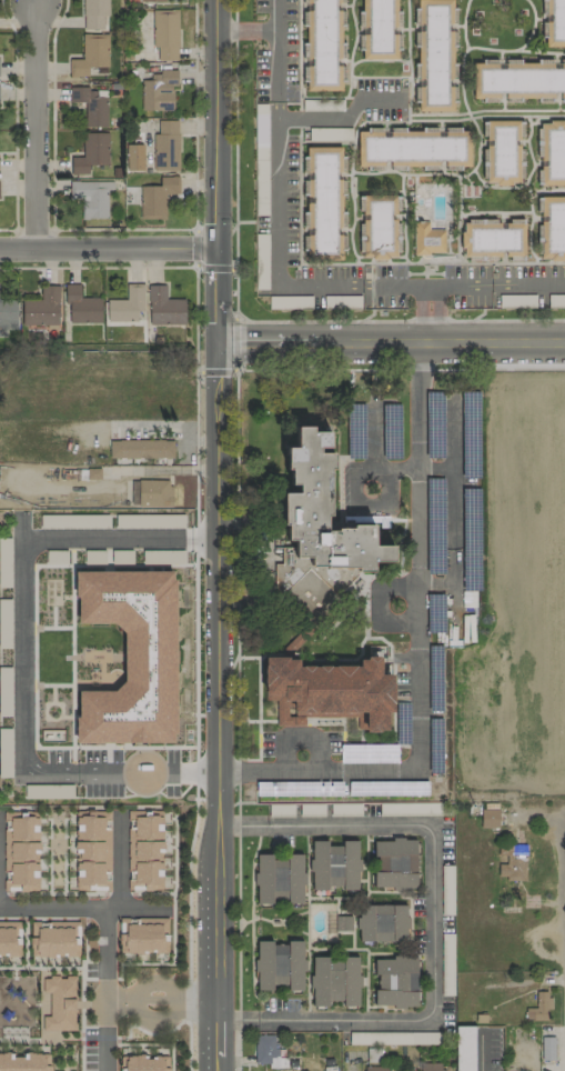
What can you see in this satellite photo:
building: (151, 0)
building: (94, 13)
building: (554, 23)
road: (244, 30)
building: (380, 30)
building: (165, 34)
building: (323, 44)
road: (275, 50)
building: (90, 54)
building: (435, 56)
building: (518, 80)
building: (158, 91)
building: (90, 107)
road: (341, 116)
road: (214, 124)
road: (36, 126)
building: (165, 146)
building: (415, 148)
building: (503, 152)
building: (90, 153)
building: (552, 153)
road: (234, 158)
building: (91, 198)
building: (157, 198)
building: (323, 203)
building: (379, 226)
building: (551, 228)
road: (278, 234)
building: (426, 239)
building: (492, 239)
road: (107, 249)
traffic signals: (215, 250)
road: (194, 267)
road: (527, 286)
road: (395, 287)
road: (436, 287)
road: (214, 291)
building: (127, 304)
building: (81, 306)
building: (163, 308)
building: (41, 309)
building: (7, 317)
road: (341, 319)
road: (506, 320)
traffic signals: (214, 332)
road: (389, 333)
road: (239, 366)
road: (402, 370)
road: (173, 424)
road: (453, 448)
building: (140, 449)
building: (154, 493)
road: (354, 497)
building: (323, 503)
road: (455, 539)
road: (196, 559)
road: (437, 584)
road: (19, 650)
road: (418, 651)
building: (130, 657)
road: (213, 671)
road: (36, 745)
building: (488, 818)
building: (91, 849)
building: (143, 849)
building: (19, 850)
road: (174, 853)
building: (394, 863)
road: (119, 864)
building: (334, 865)
building: (279, 879)
road: (3, 893)
road: (54, 893)
road: (117, 893)
road: (152, 894)
road: (131, 909)
road: (100, 915)
road: (431, 921)
building: (382, 922)
road: (563, 922)
road: (188, 929)
building: (142, 935)
building: (9, 939)
building: (53, 939)
road: (171, 963)
building: (279, 964)
road: (41, 968)
road: (88, 979)
building: (334, 980)
building: (395, 982)
road: (169, 999)
building: (59, 1001)
building: (538, 1007)
road: (81, 1010)
road: (213, 1033)
road: (102, 1035)
road: (97, 1038)
road: (186, 1047)
building: (264, 1048)
building: (464, 1048)
road: (480, 1051)
building: (23, 1062)
building: (142, 1063)
road: (352, 1063)
road: (532, 1063)
road: (213, 1064)
building: (431, 1067)
building: (374, 1069)

